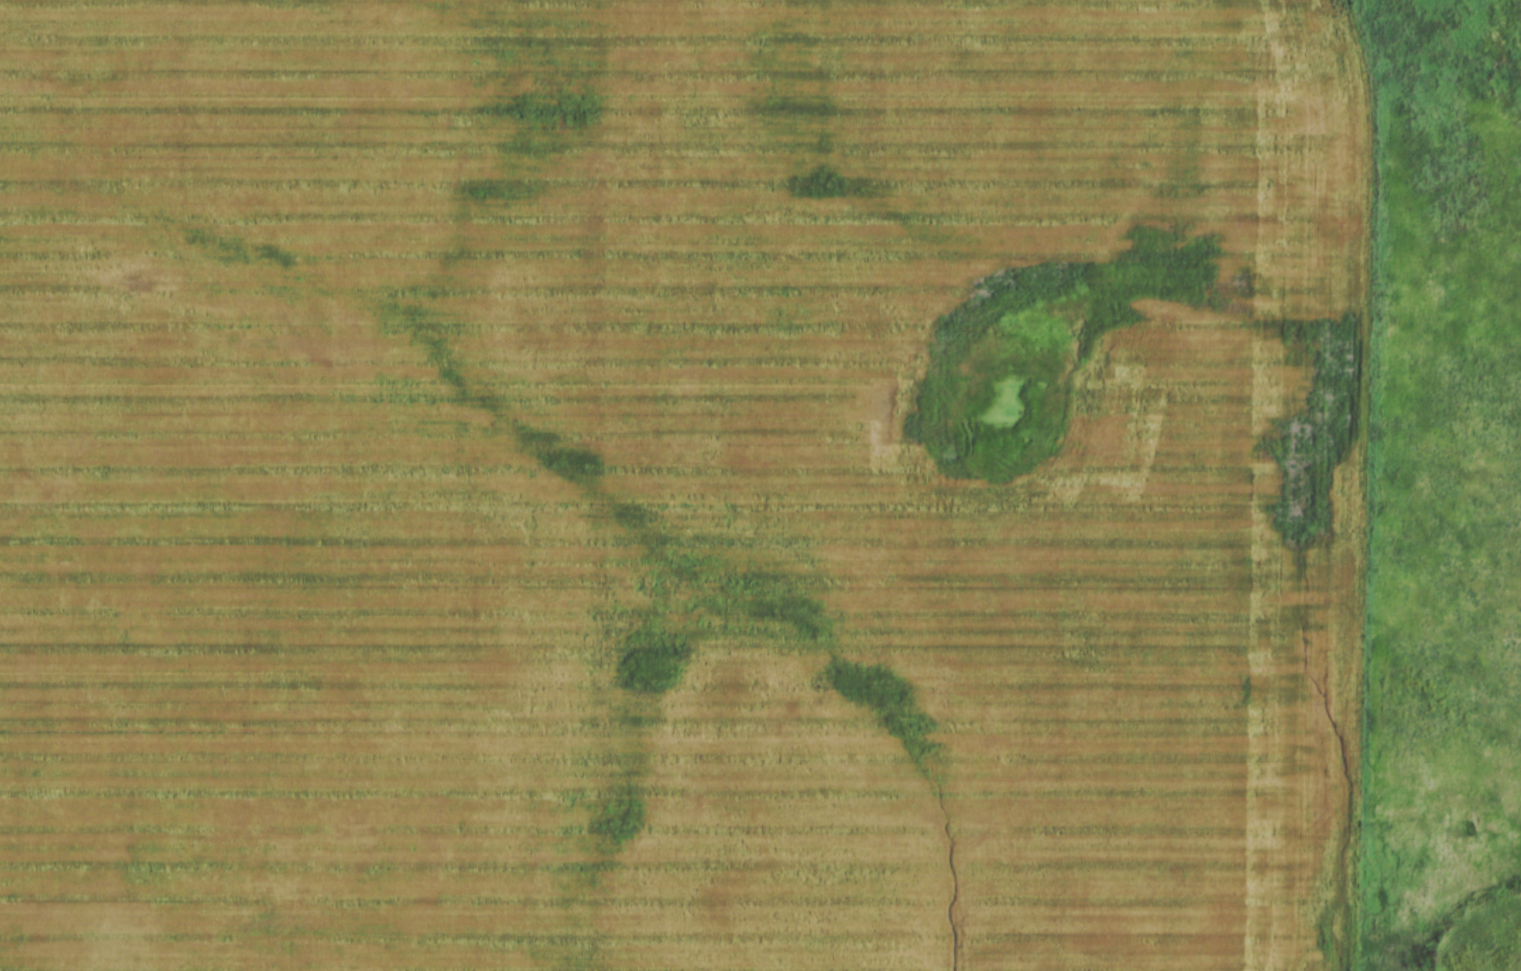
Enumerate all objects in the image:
airport runway: (1472, 562)

